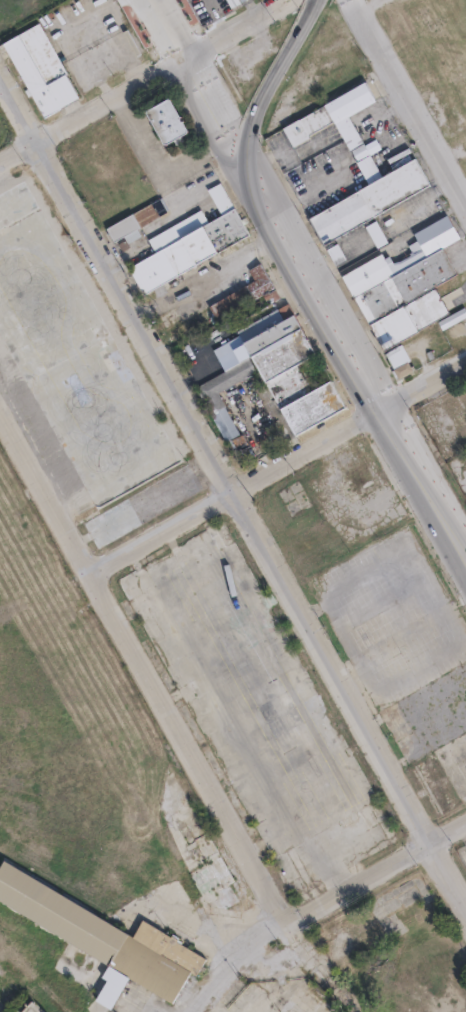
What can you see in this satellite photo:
building: (235, 1)
road: (367, 7)
road: (217, 16)
road: (234, 29)
road: (167, 30)
building: (441, 42)
building: (43, 70)
road: (206, 100)
road: (407, 103)
road: (92, 113)
building: (170, 122)
building: (340, 125)
road: (156, 171)
road: (307, 192)
road: (422, 198)
building: (371, 202)
building: (139, 219)
building: (378, 235)
building: (191, 252)
building: (338, 254)
road: (302, 274)
building: (407, 285)
building: (73, 355)
building: (273, 366)
building: (404, 372)
road: (421, 384)
road: (421, 488)
road: (236, 492)
road: (236, 495)
building: (143, 505)
road: (162, 690)
road: (464, 827)
building: (211, 862)
road: (321, 904)
building: (106, 937)
building: (112, 987)

